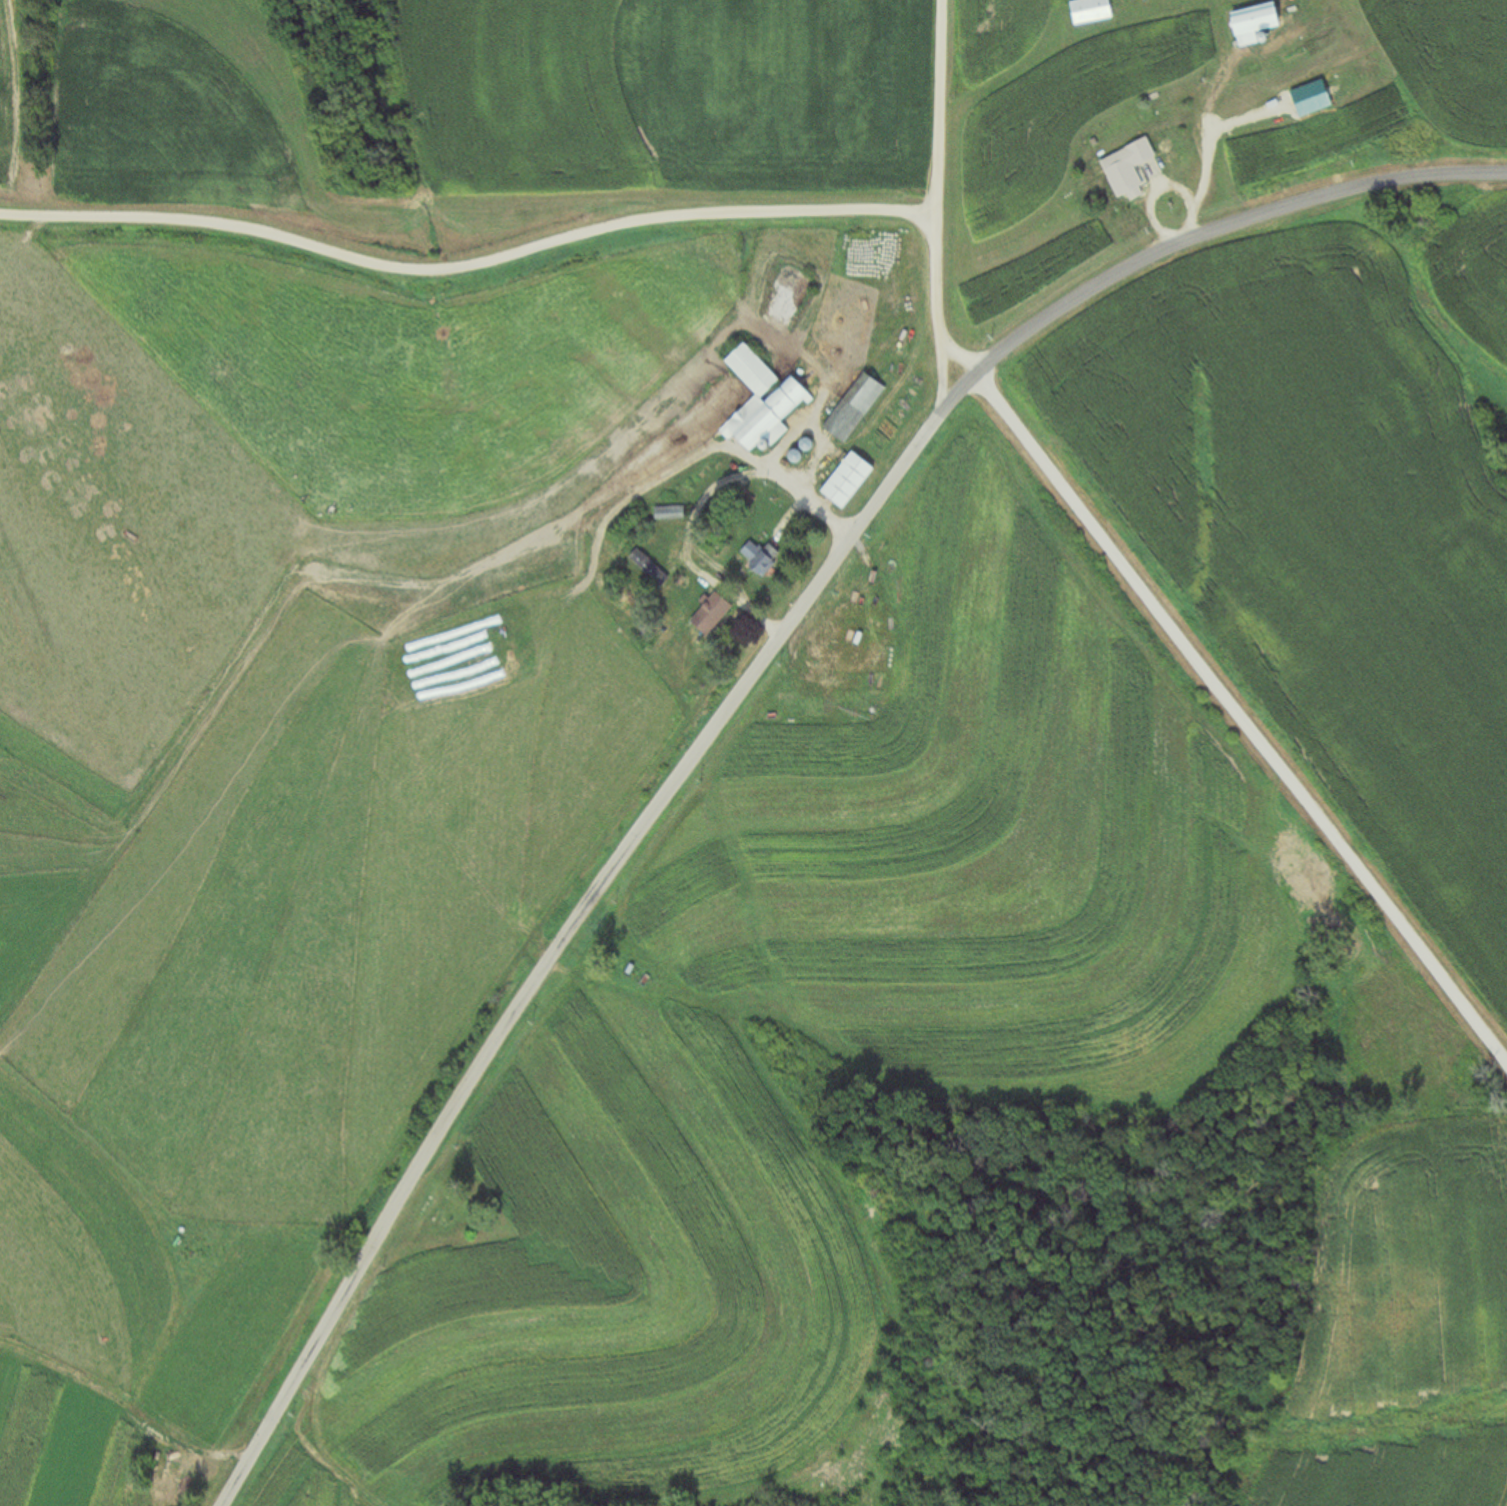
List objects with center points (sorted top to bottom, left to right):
building: (1094, 11)
building: (1263, 23)
building: (1309, 50)
building: (1253, 70)
building: (1330, 88)
building: (1133, 157)
road: (936, 194)
road: (468, 264)
building: (767, 401)
building: (859, 405)
building: (804, 450)
building: (854, 478)
building: (672, 512)
building: (764, 556)
building: (651, 566)
building: (715, 612)
road: (742, 685)
road: (1241, 719)
park: (448, 1209)

